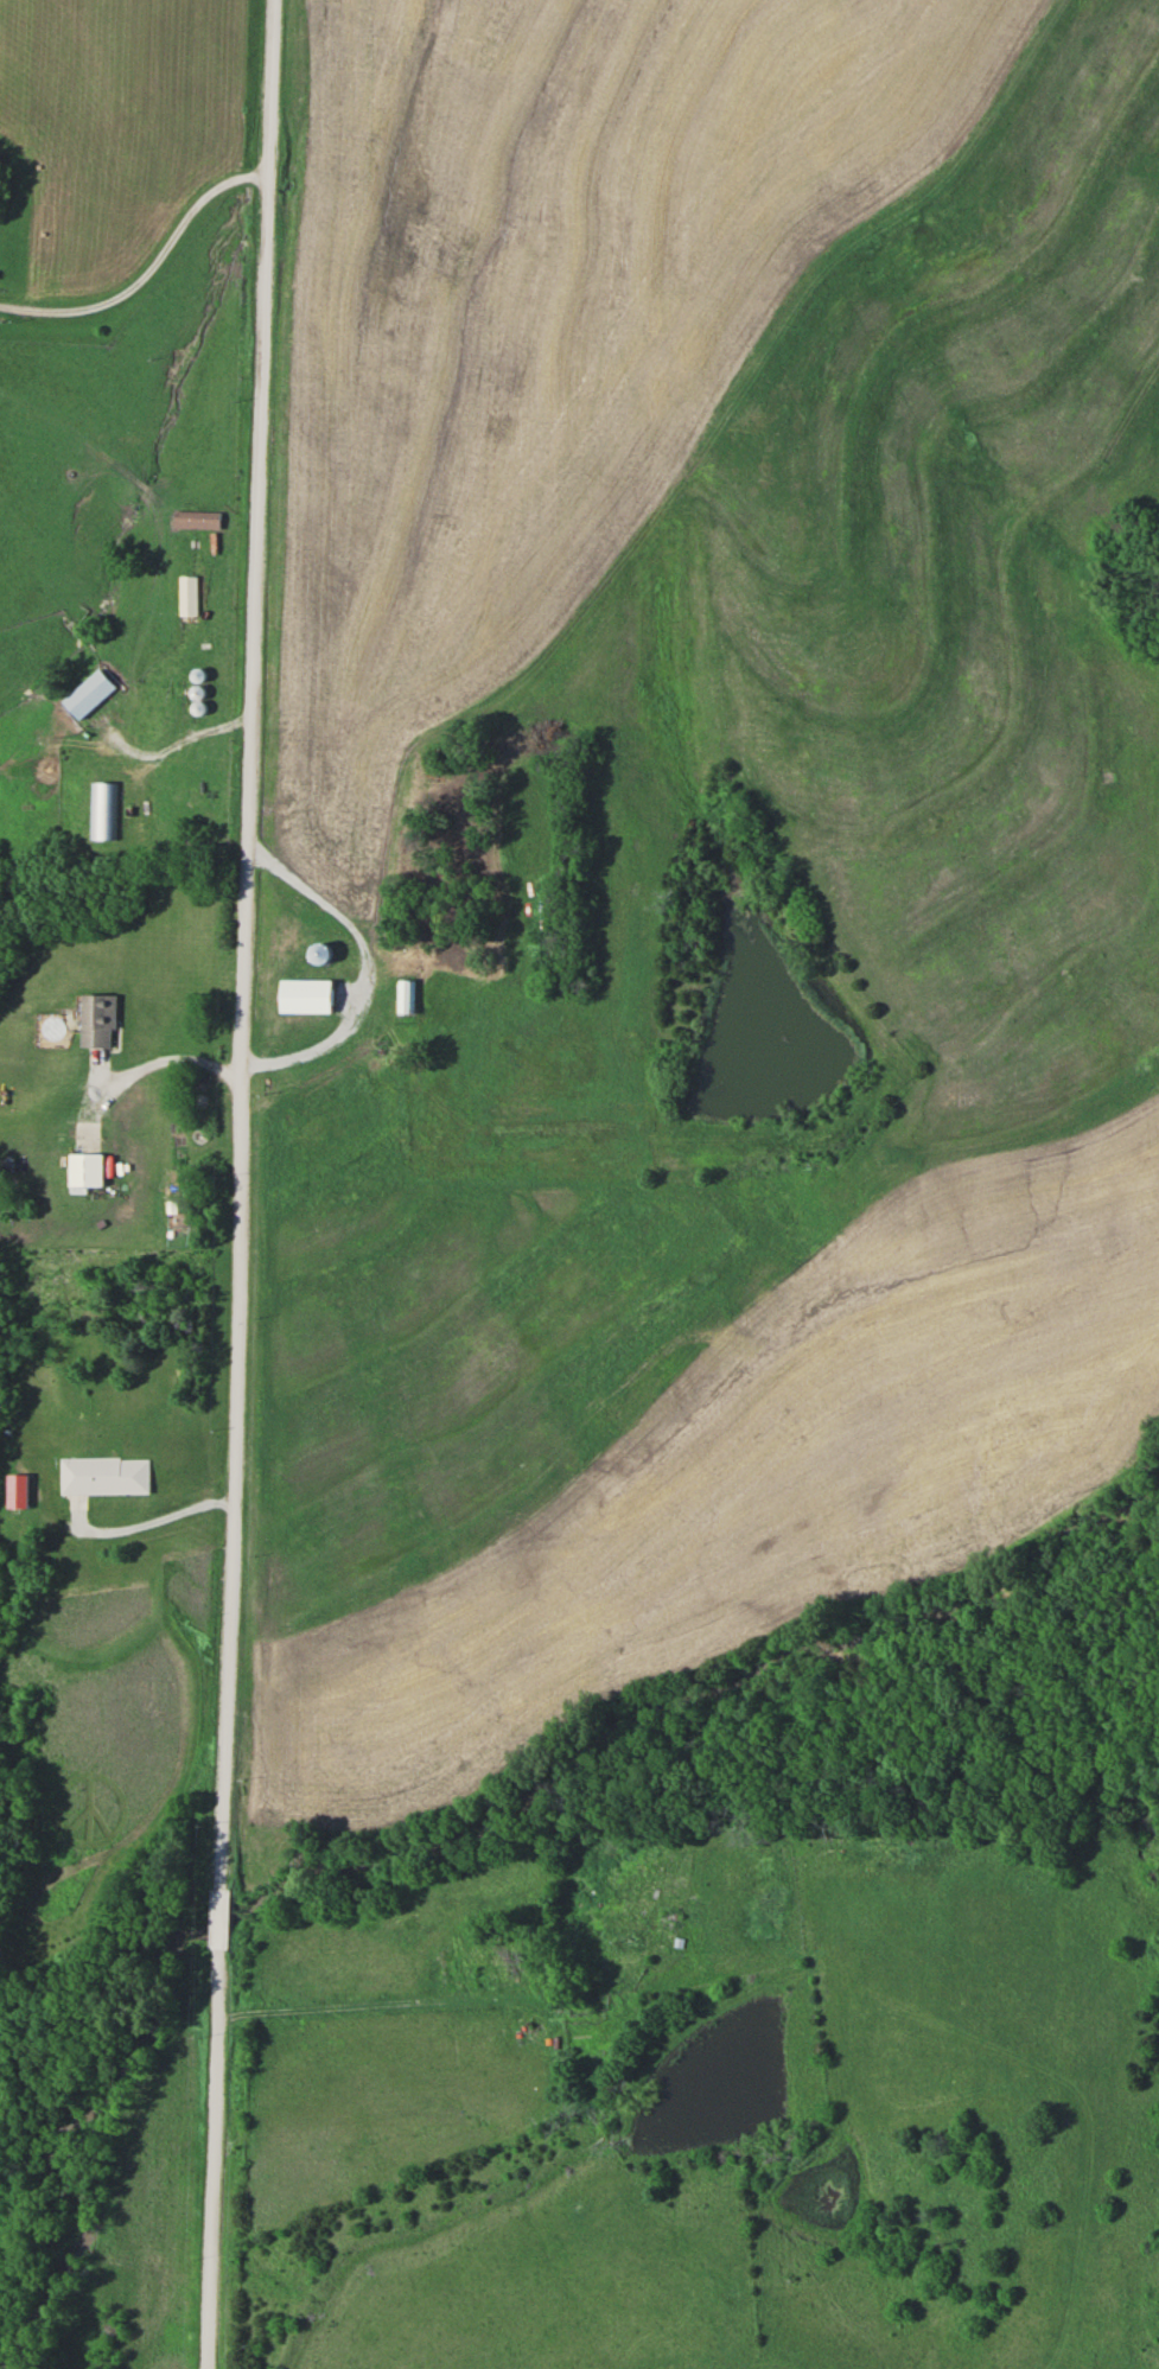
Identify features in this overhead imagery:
road: (148, 270)
building: (200, 518)
building: (190, 594)
building: (93, 693)
building: (103, 810)
building: (326, 953)
building: (312, 994)
building: (409, 994)
building: (101, 1020)
building: (89, 1168)
road: (240, 1184)
building: (107, 1475)

